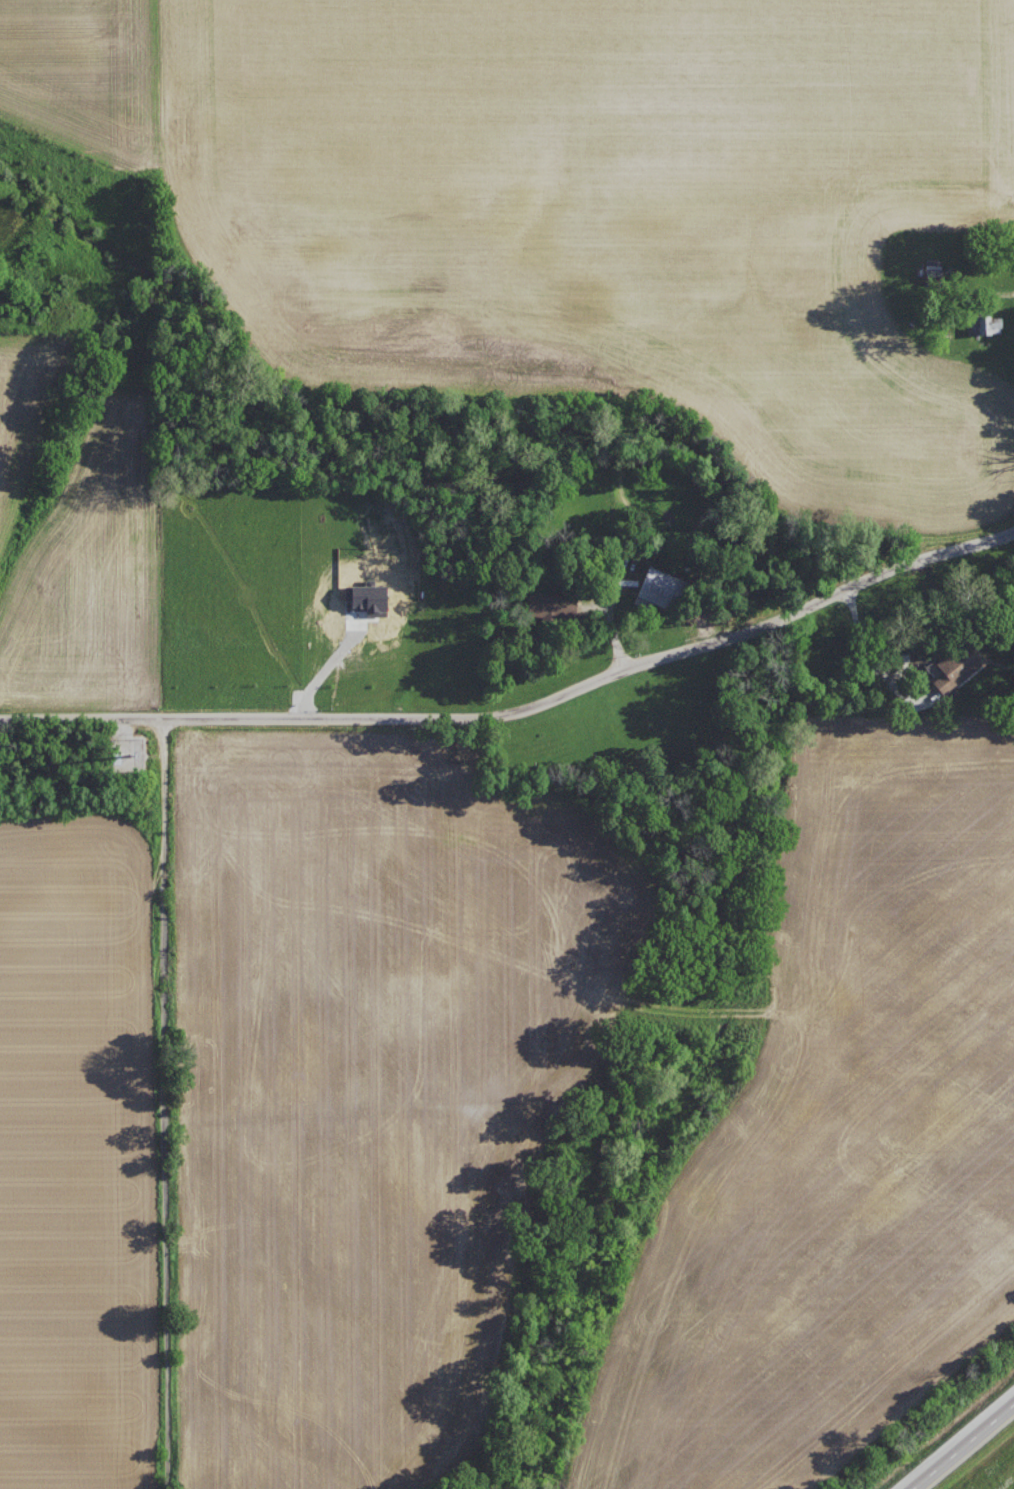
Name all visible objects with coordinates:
building: (994, 324)
building: (666, 589)
building: (556, 605)
road: (853, 608)
road: (738, 625)
road: (861, 635)
building: (959, 668)
road: (324, 671)
road: (885, 677)
road: (231, 718)
road: (167, 1103)
road: (960, 1443)

